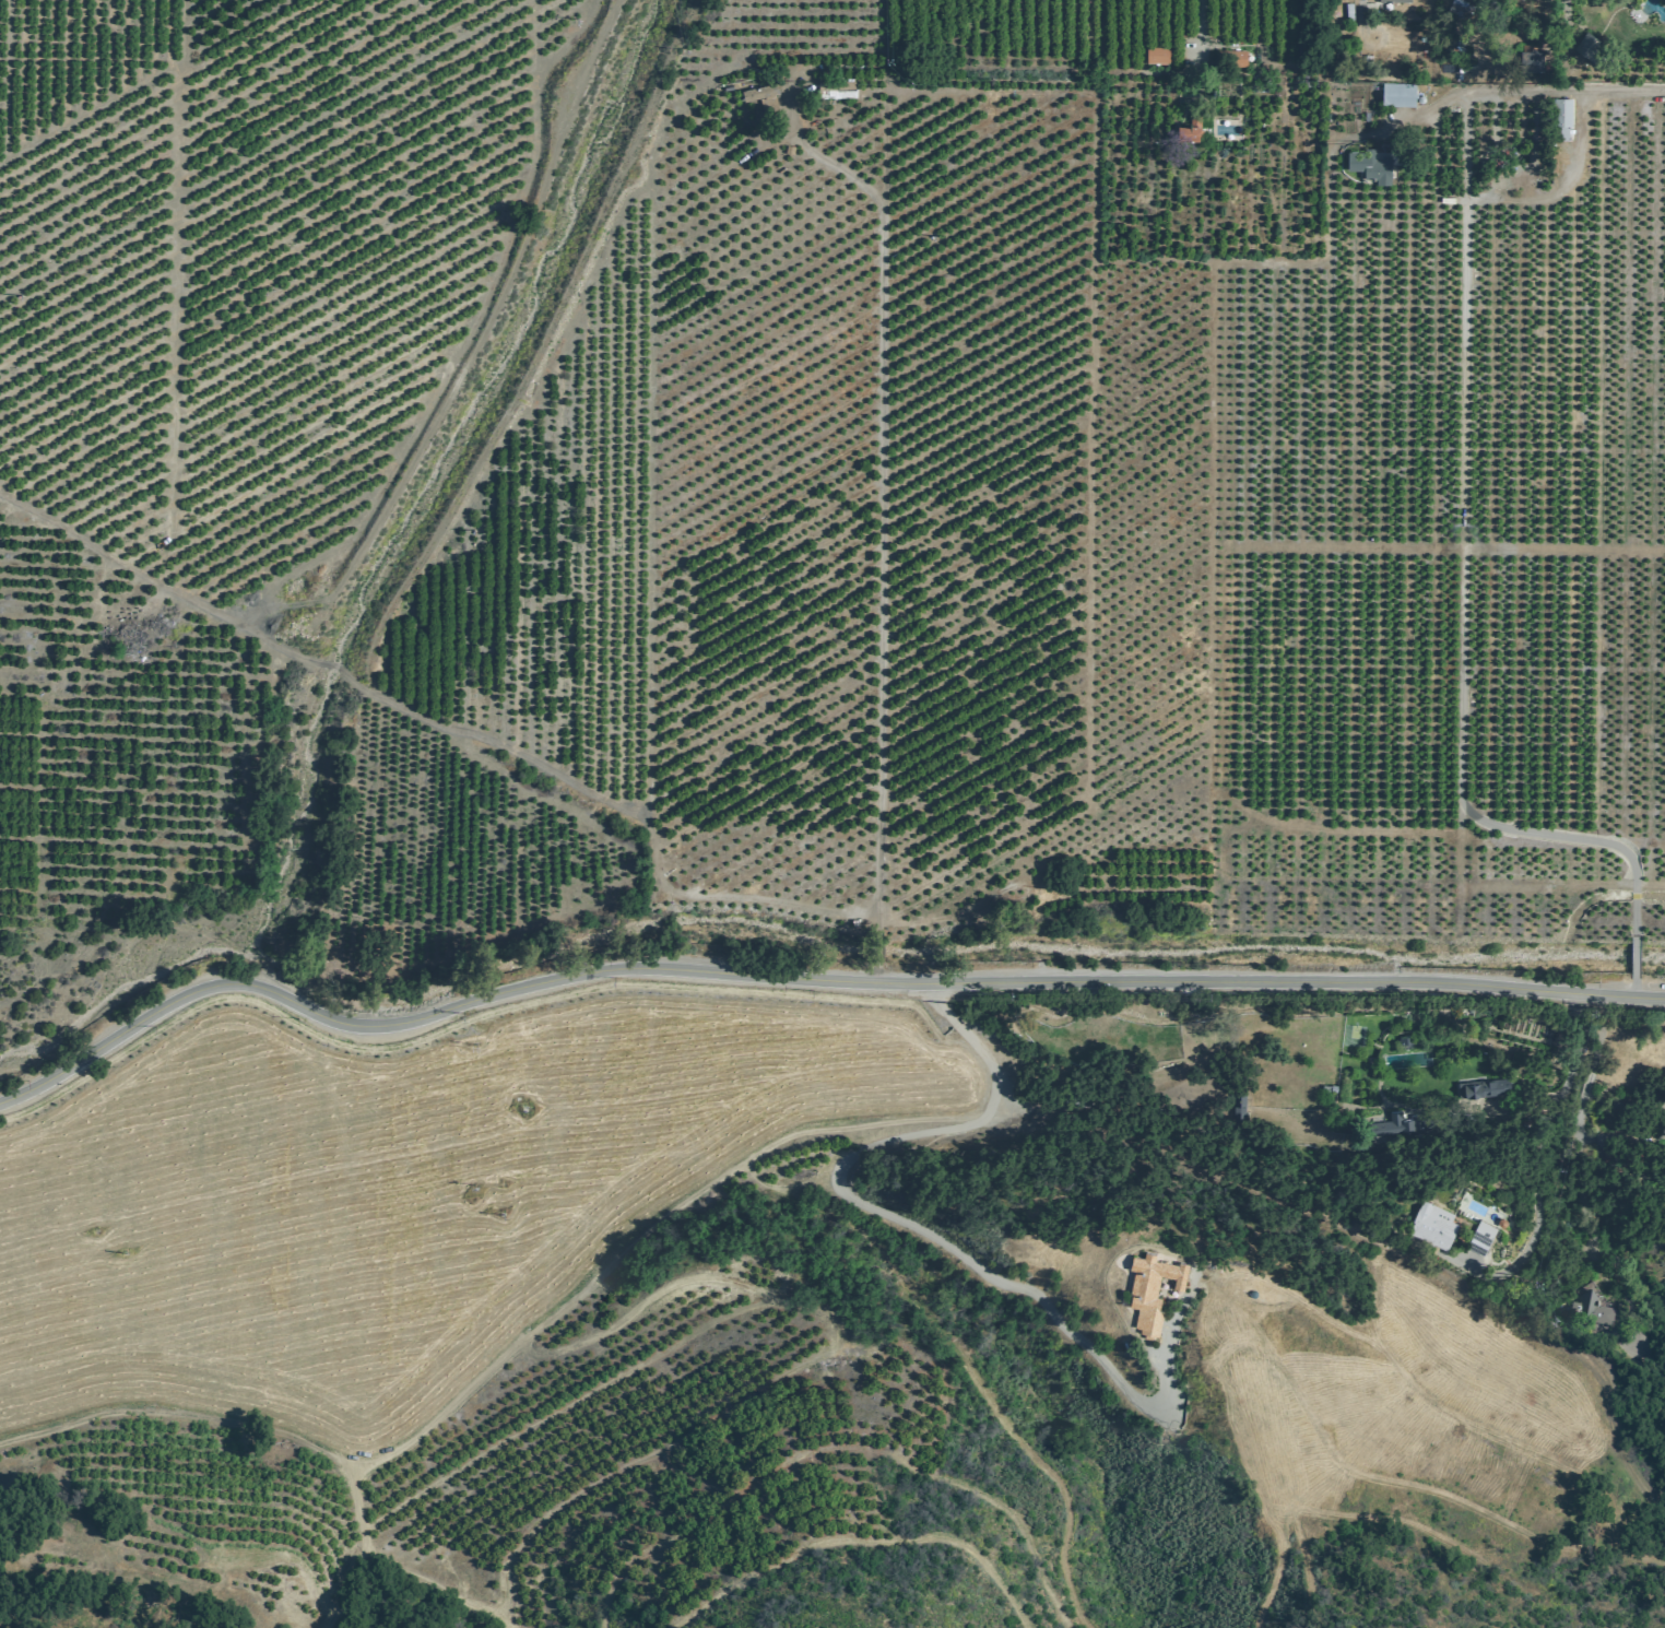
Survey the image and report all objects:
building: (1395, 1)
road: (1206, 22)
building: (1593, 49)
building: (1158, 54)
building: (1239, 58)
building: (1533, 60)
building: (837, 89)
road: (1561, 90)
building: (760, 91)
building: (1400, 94)
building: (1563, 118)
building: (1194, 127)
building: (1372, 164)
road: (176, 223)
road: (884, 502)
road: (1460, 506)
road: (445, 728)
road: (877, 947)
road: (1631, 959)
road: (875, 976)
road: (806, 981)
road: (1631, 989)
building: (1487, 1089)
road: (908, 1225)
building: (1434, 1226)
road: (634, 1235)
building: (1483, 1237)
road: (1381, 1250)
building: (1153, 1289)
building: (1591, 1310)
road: (295, 1439)
road: (643, 1448)
road: (865, 1538)
road: (1304, 1555)
road: (1278, 1562)

